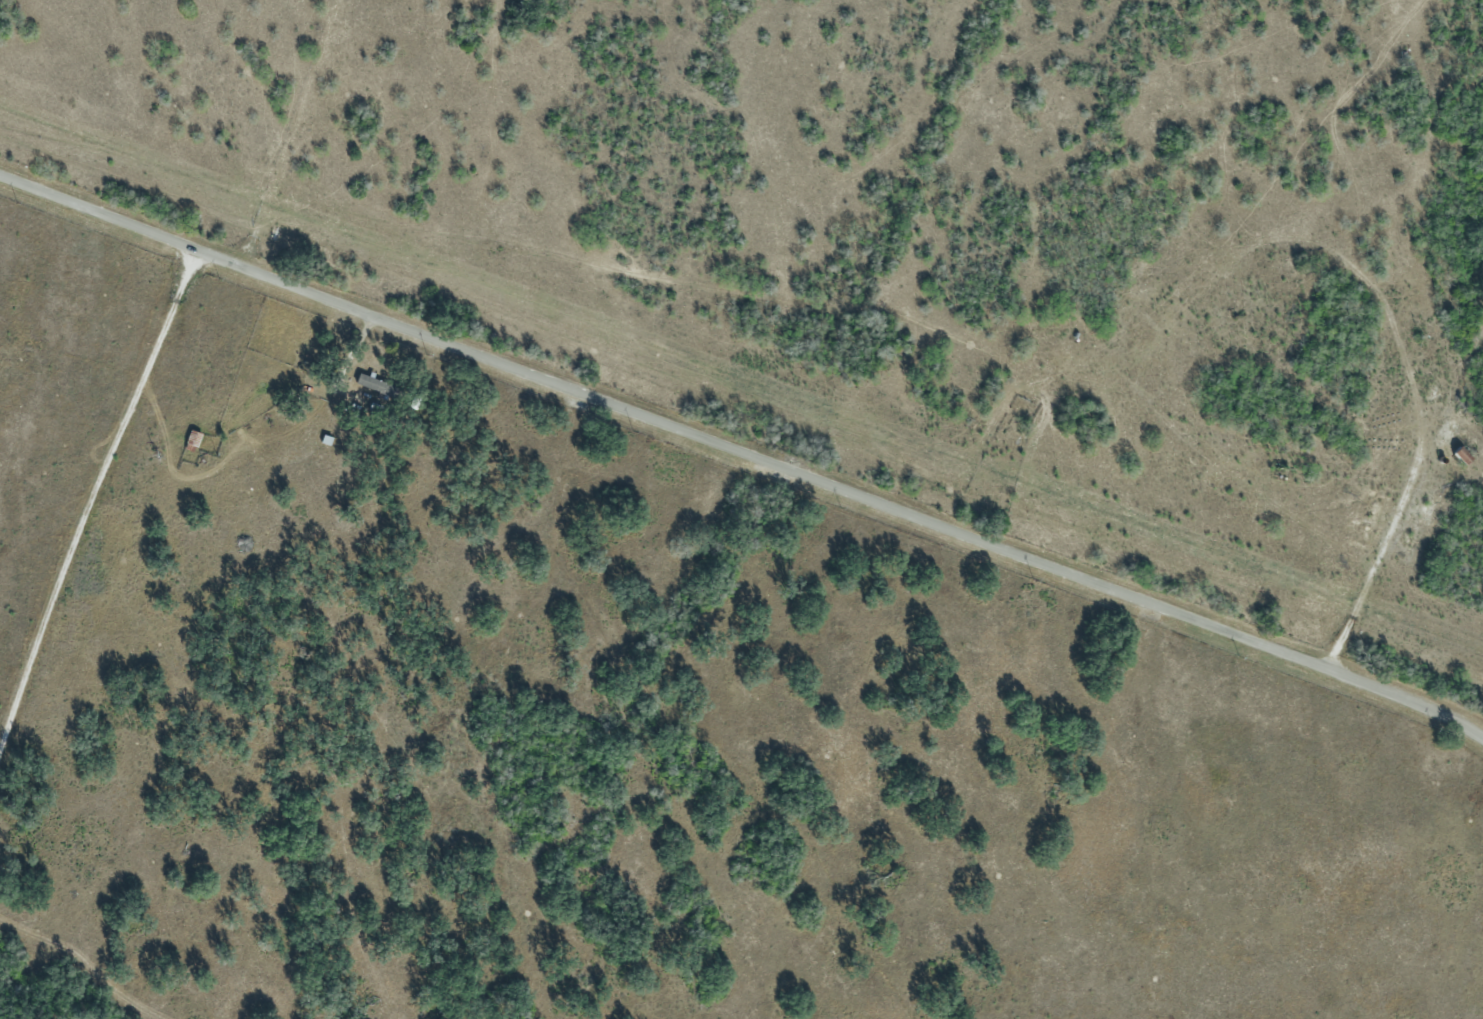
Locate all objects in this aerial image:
building: (372, 384)
building: (189, 439)
road: (743, 452)
road: (92, 494)

